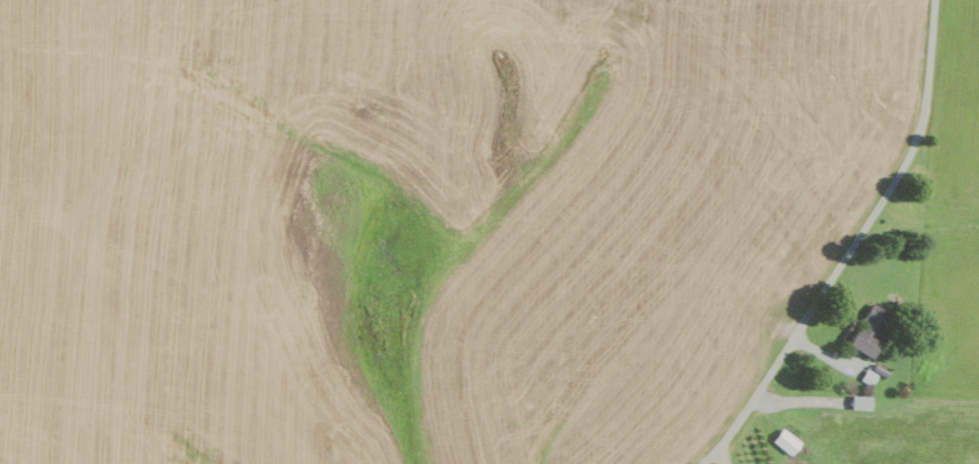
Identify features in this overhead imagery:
road: (855, 245)
building: (868, 344)
building: (869, 377)
building: (863, 402)
building: (788, 442)
road: (725, 455)

